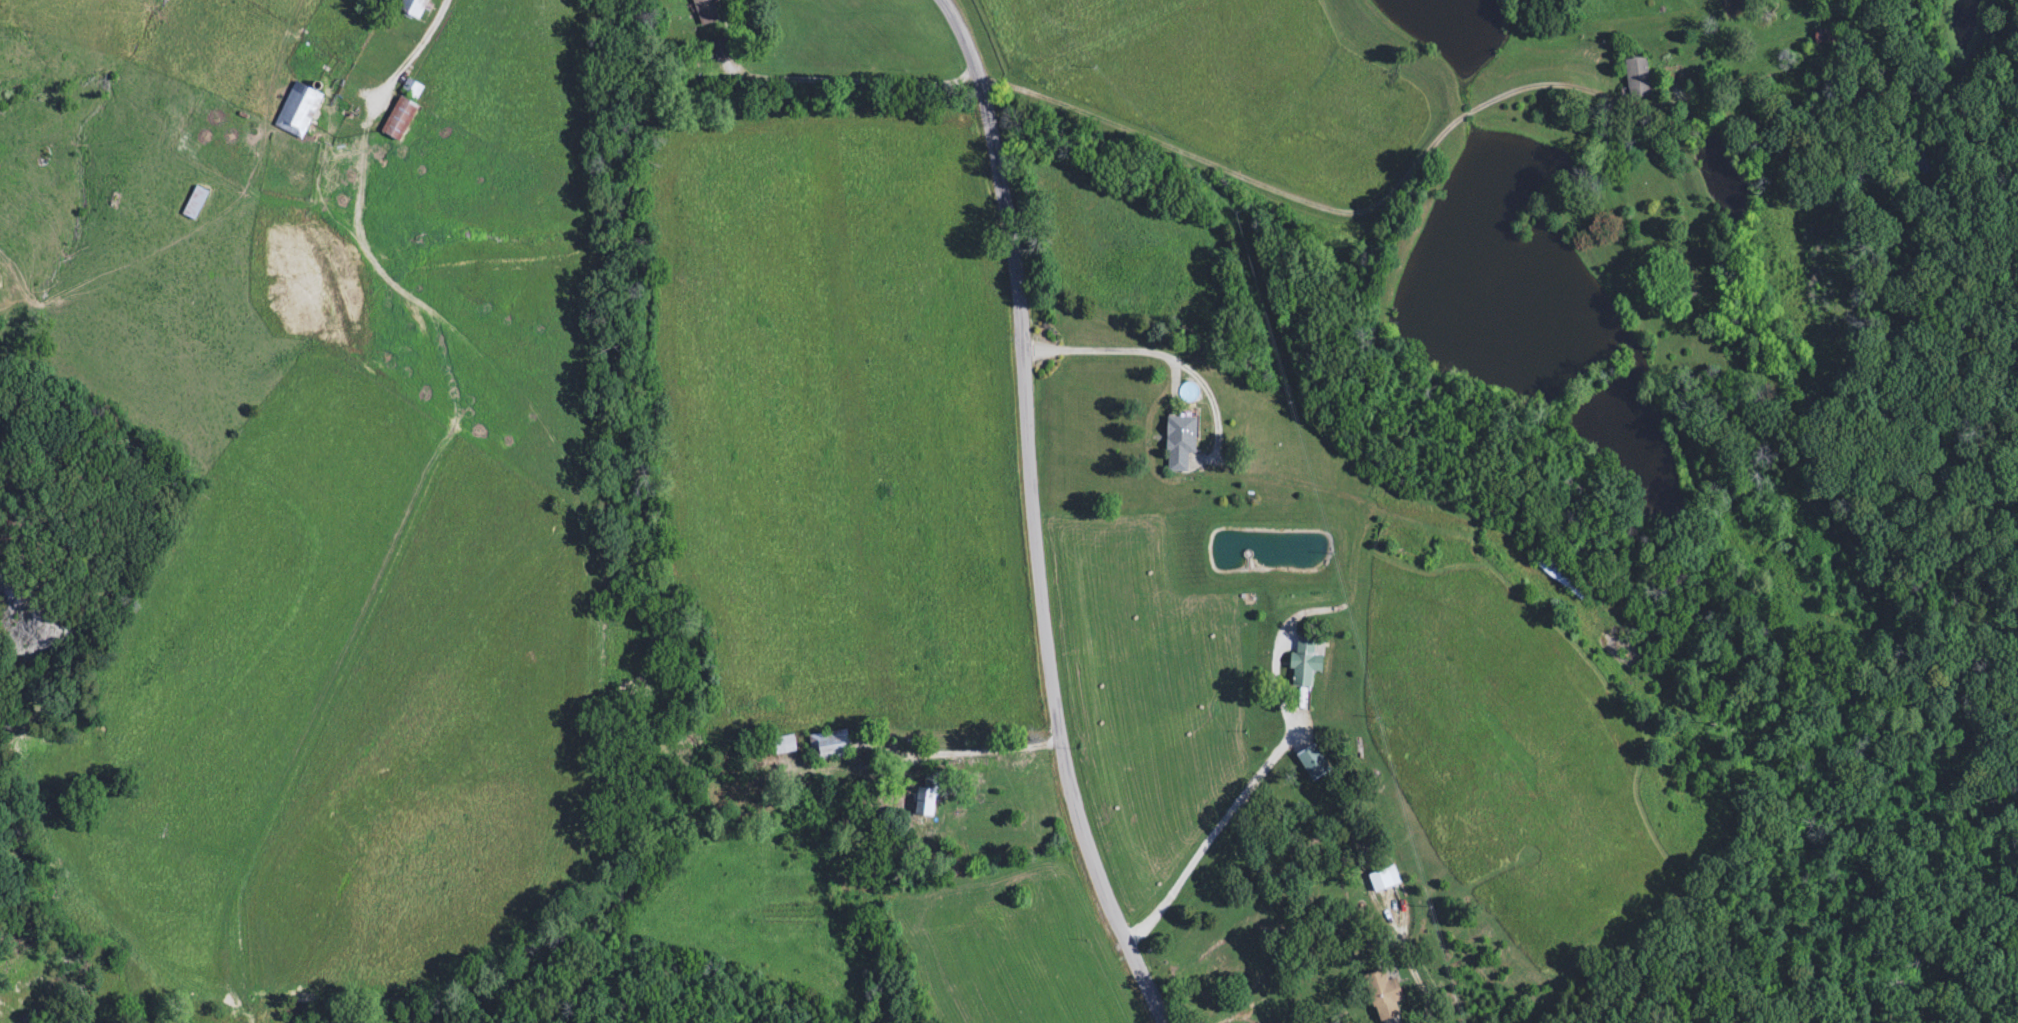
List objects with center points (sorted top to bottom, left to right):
building: (411, 8)
building: (704, 11)
building: (1824, 36)
road: (414, 62)
building: (1636, 78)
building: (411, 89)
building: (296, 111)
building: (397, 119)
road: (1182, 153)
building: (194, 204)
road: (1163, 357)
building: (1178, 443)
road: (1295, 485)
road: (1037, 515)
building: (1561, 576)
building: (1303, 663)
road: (1295, 729)
building: (783, 745)
building: (828, 747)
road: (969, 757)
building: (1311, 763)
building: (925, 797)
building: (1382, 880)
building: (1382, 994)
road: (1389, 1000)

